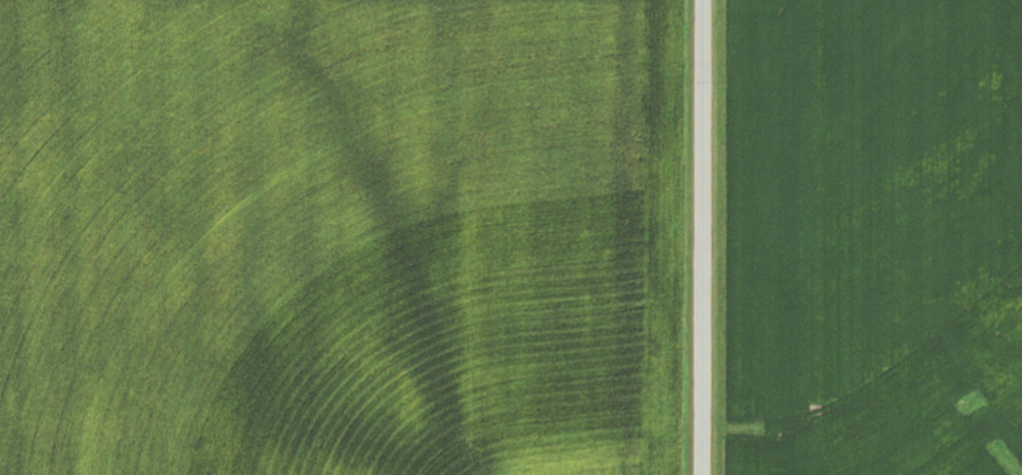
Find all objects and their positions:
road: (703, 237)

